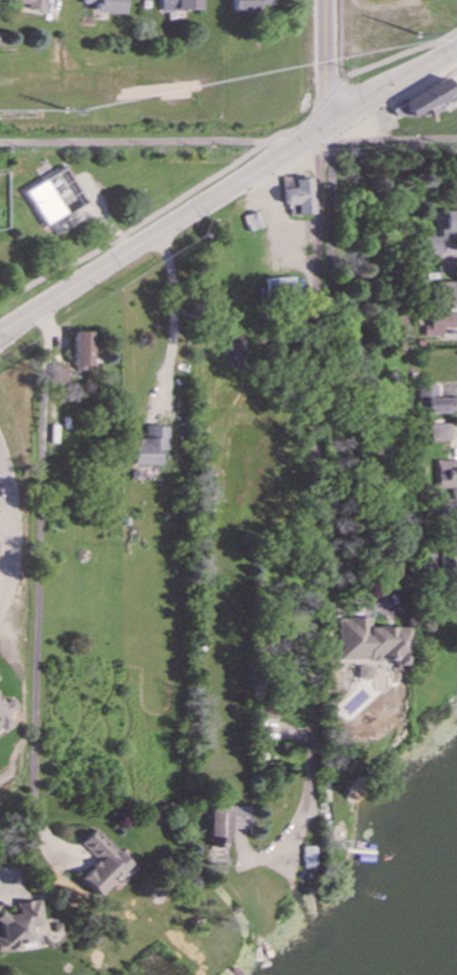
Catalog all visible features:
building: (33, 4)
building: (179, 5)
building: (247, 5)
building: (106, 6)
power tower: (430, 34)
road: (340, 39)
road: (400, 55)
road: (324, 65)
building: (428, 99)
power tower: (78, 112)
road: (310, 117)
road: (328, 135)
road: (393, 138)
road: (298, 141)
road: (133, 143)
road: (228, 191)
building: (296, 194)
building: (54, 197)
road: (136, 225)
road: (312, 231)
building: (278, 285)
building: (446, 293)
road: (171, 315)
building: (441, 323)
building: (80, 349)
building: (58, 375)
building: (433, 401)
building: (439, 433)
building: (148, 446)
building: (446, 484)
road: (7, 524)
road: (15, 526)
building: (427, 560)
building: (448, 564)
road: (38, 576)
road: (315, 601)
building: (368, 642)
building: (5, 708)
building: (225, 823)
building: (309, 856)
building: (101, 863)
road: (1, 896)
building: (18, 924)

